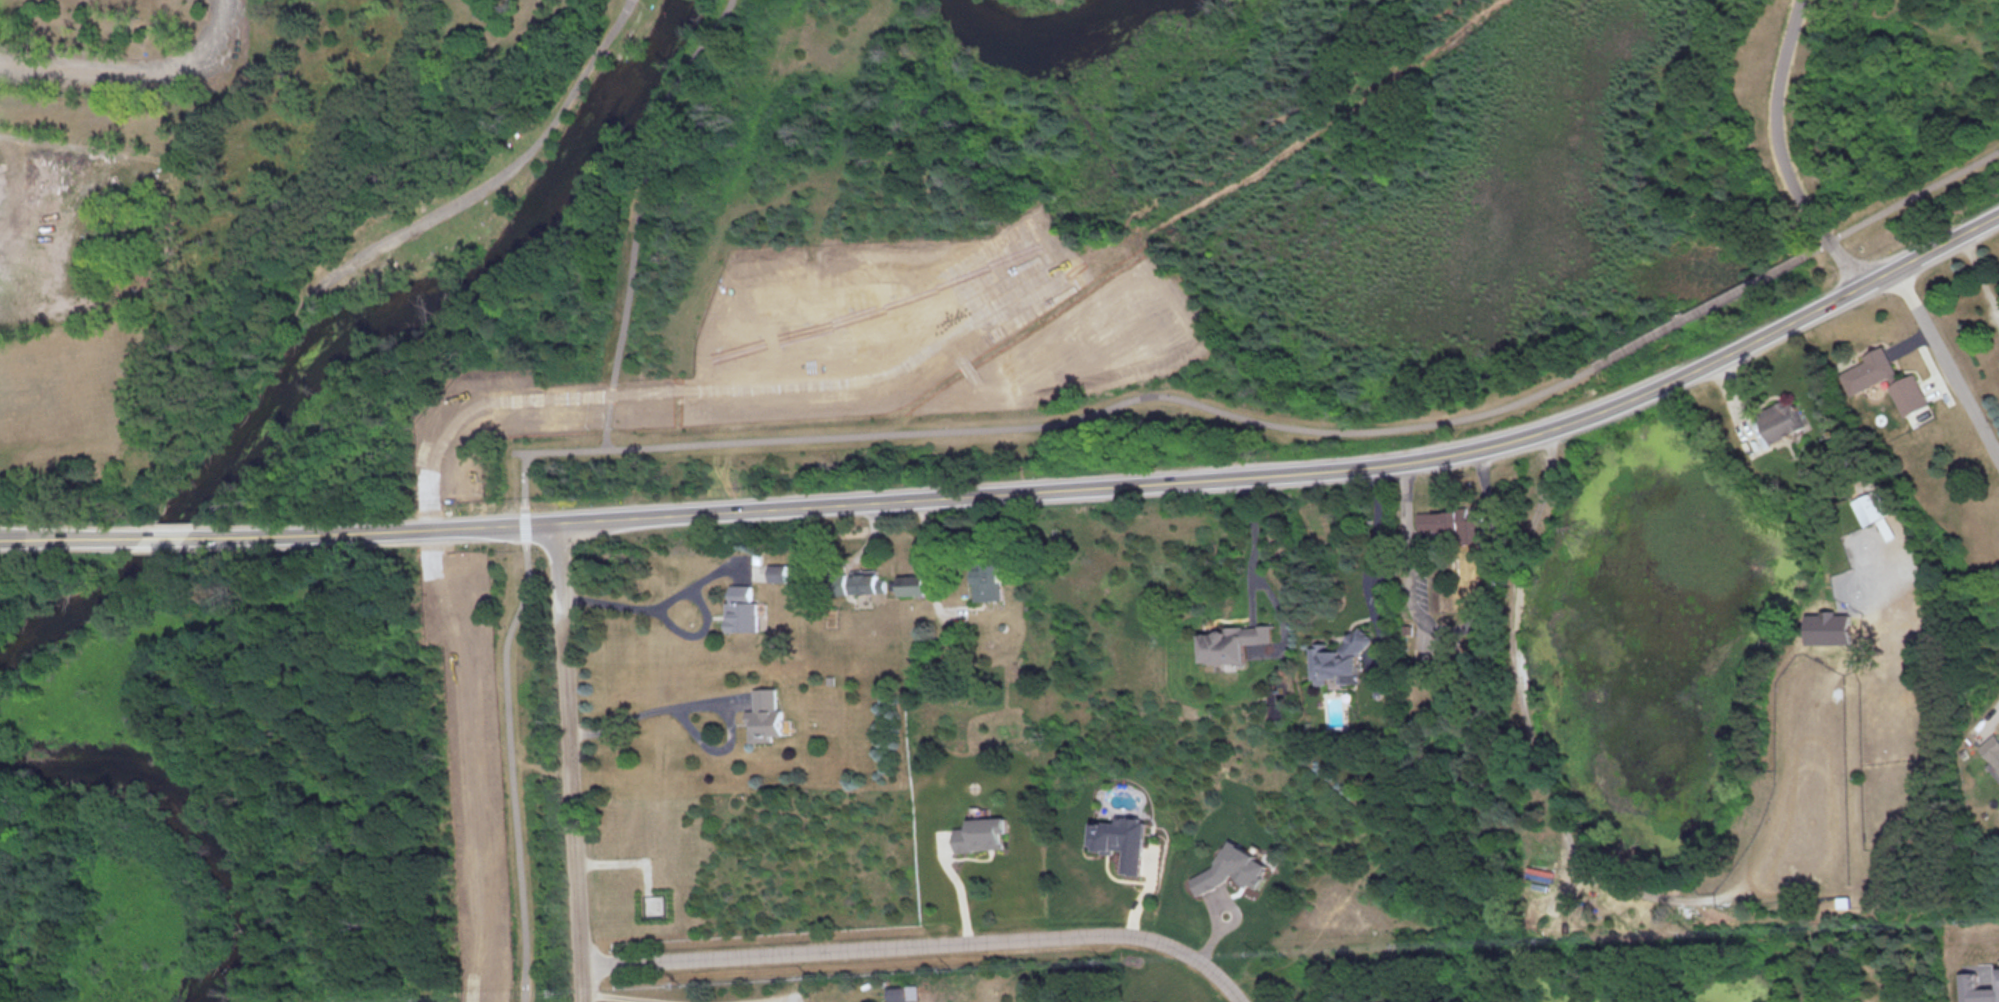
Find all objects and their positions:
park: (1029, 4)
road: (628, 24)
river: (1039, 39)
road: (134, 71)
road: (1779, 154)
road: (491, 177)
road: (1901, 201)
road: (635, 213)
road: (367, 270)
road: (1699, 309)
river: (345, 325)
road: (1947, 365)
building: (1869, 370)
building: (1909, 394)
park: (903, 400)
building: (1783, 420)
road: (794, 438)
road: (1121, 486)
building: (1873, 507)
building: (1456, 523)
road: (162, 537)
road: (66, 539)
road: (1253, 542)
road: (1371, 544)
road: (930, 565)
building: (777, 572)
building: (867, 581)
building: (988, 581)
building: (913, 584)
road: (620, 602)
building: (743, 609)
road: (1452, 627)
building: (1828, 627)
building: (1232, 642)
building: (1341, 658)
road: (636, 714)
building: (765, 715)
building: (1992, 752)
road: (571, 762)
river: (192, 823)
building: (981, 833)
building: (1123, 840)
building: (1233, 868)
road: (945, 885)
road: (924, 949)
building: (1998, 970)
building: (1976, 988)
building: (901, 992)
road: (674, 1000)

